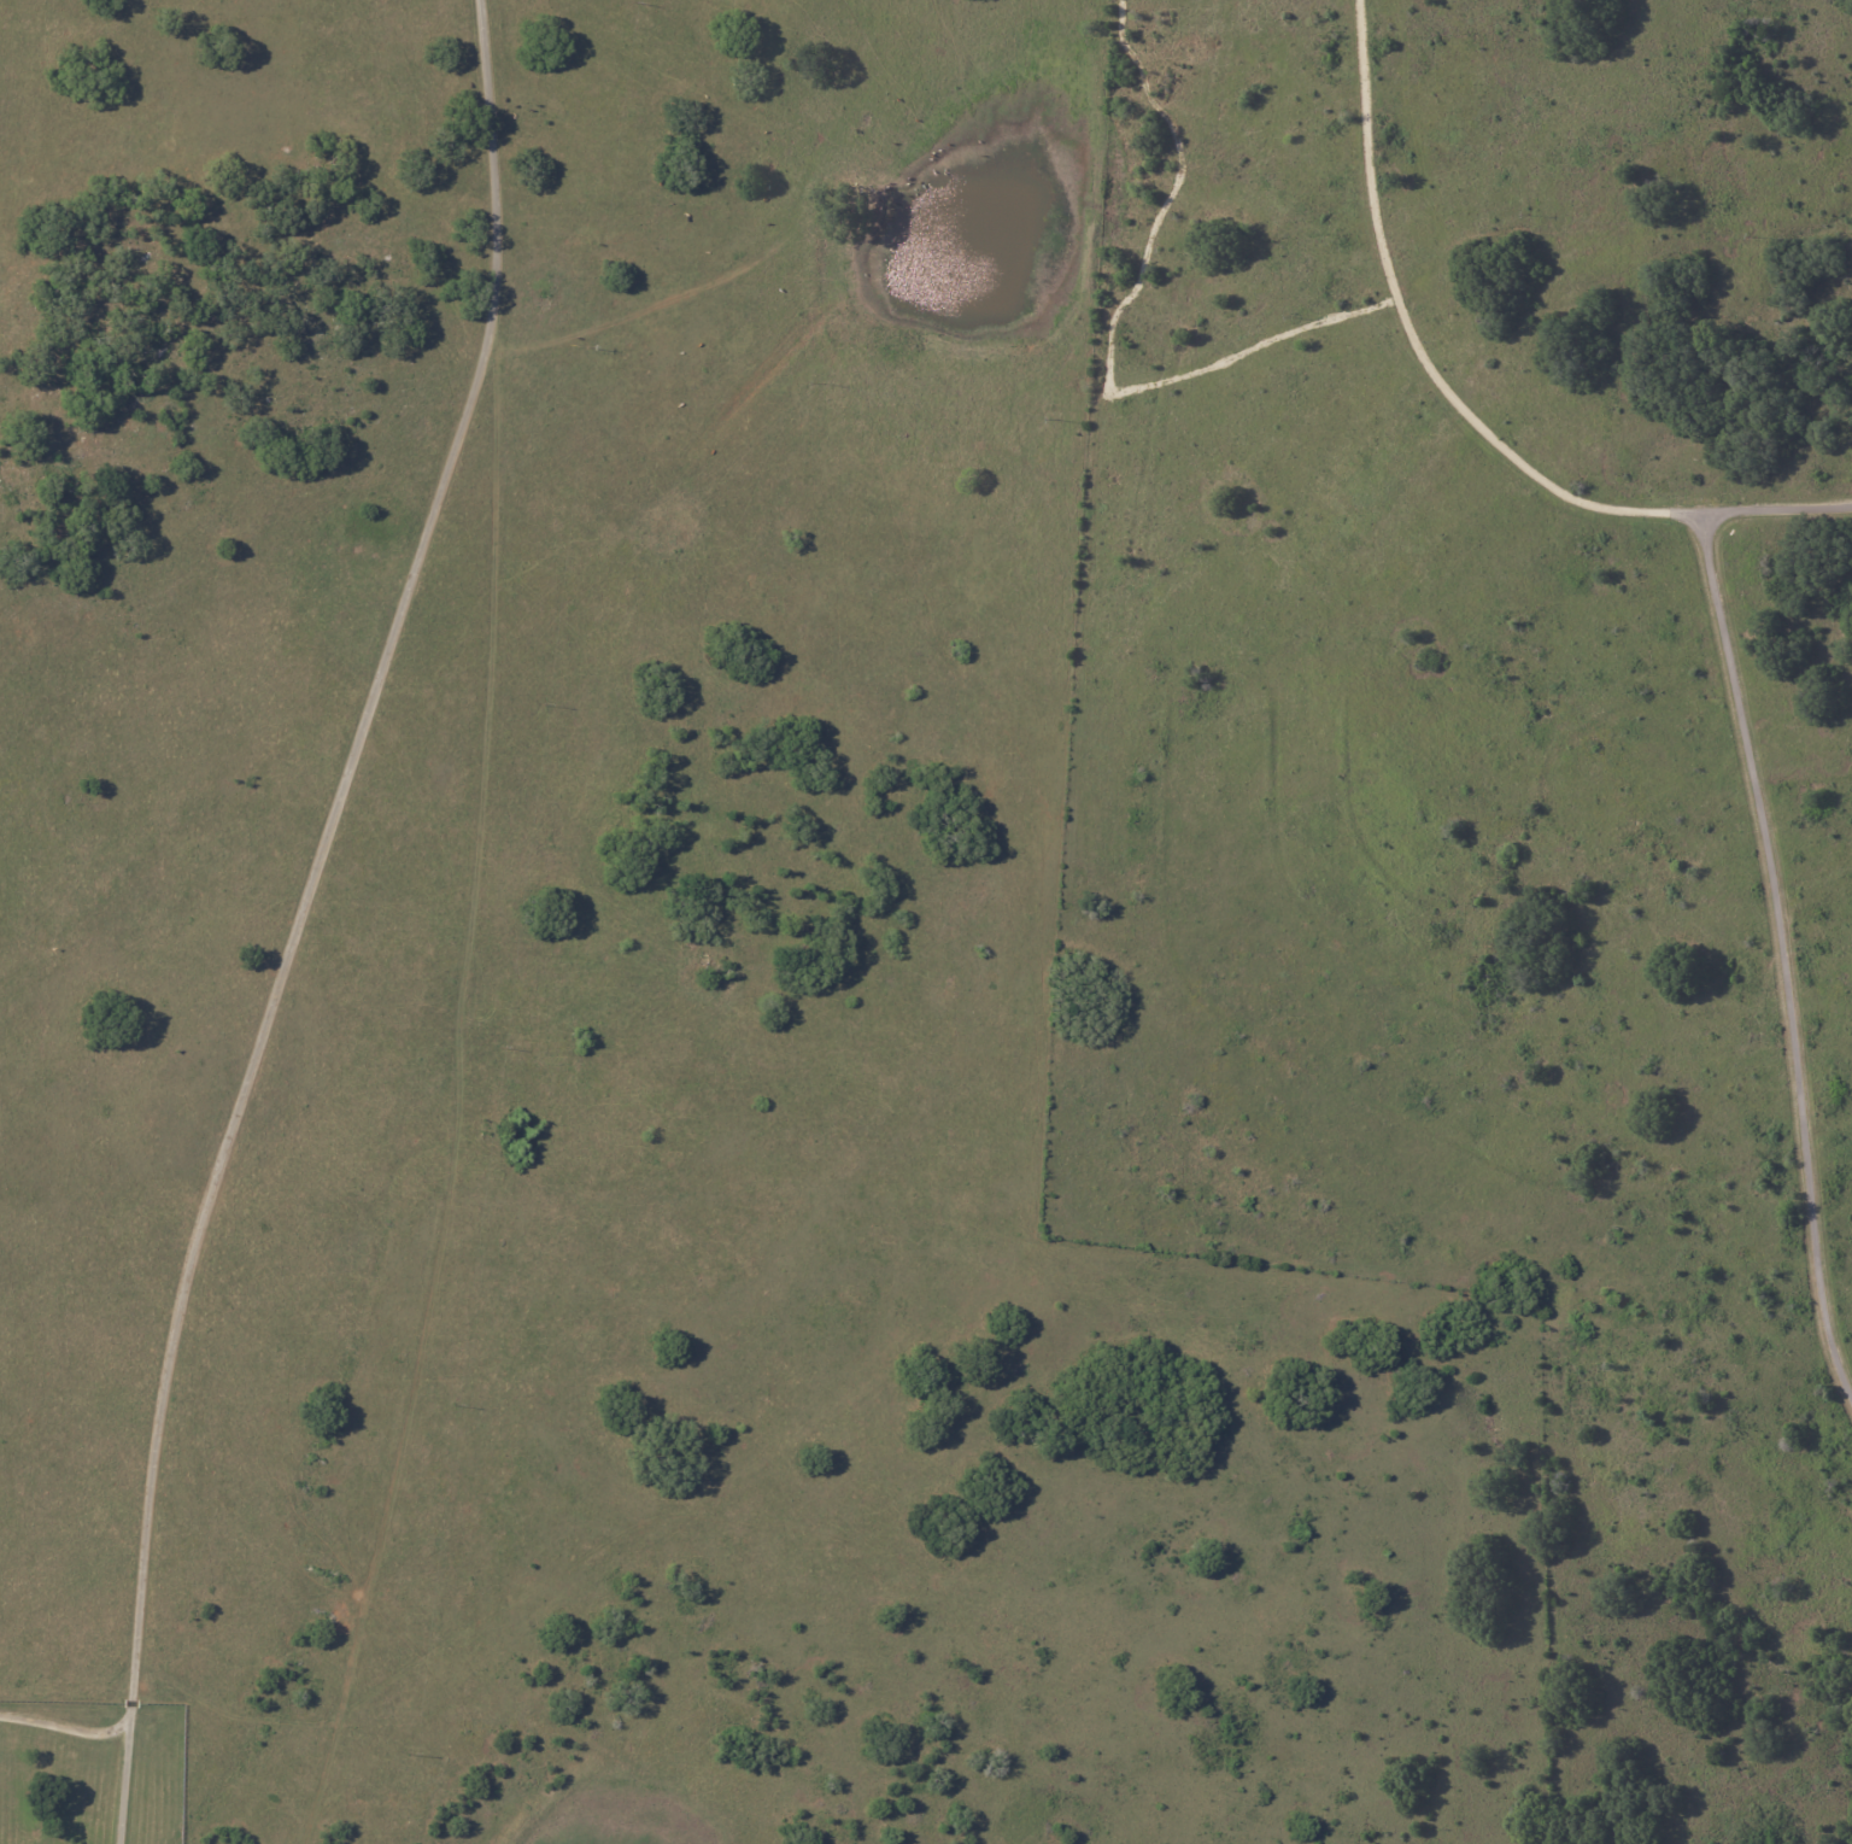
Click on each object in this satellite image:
road: (1460, 406)
road: (303, 919)
road: (66, 1728)

